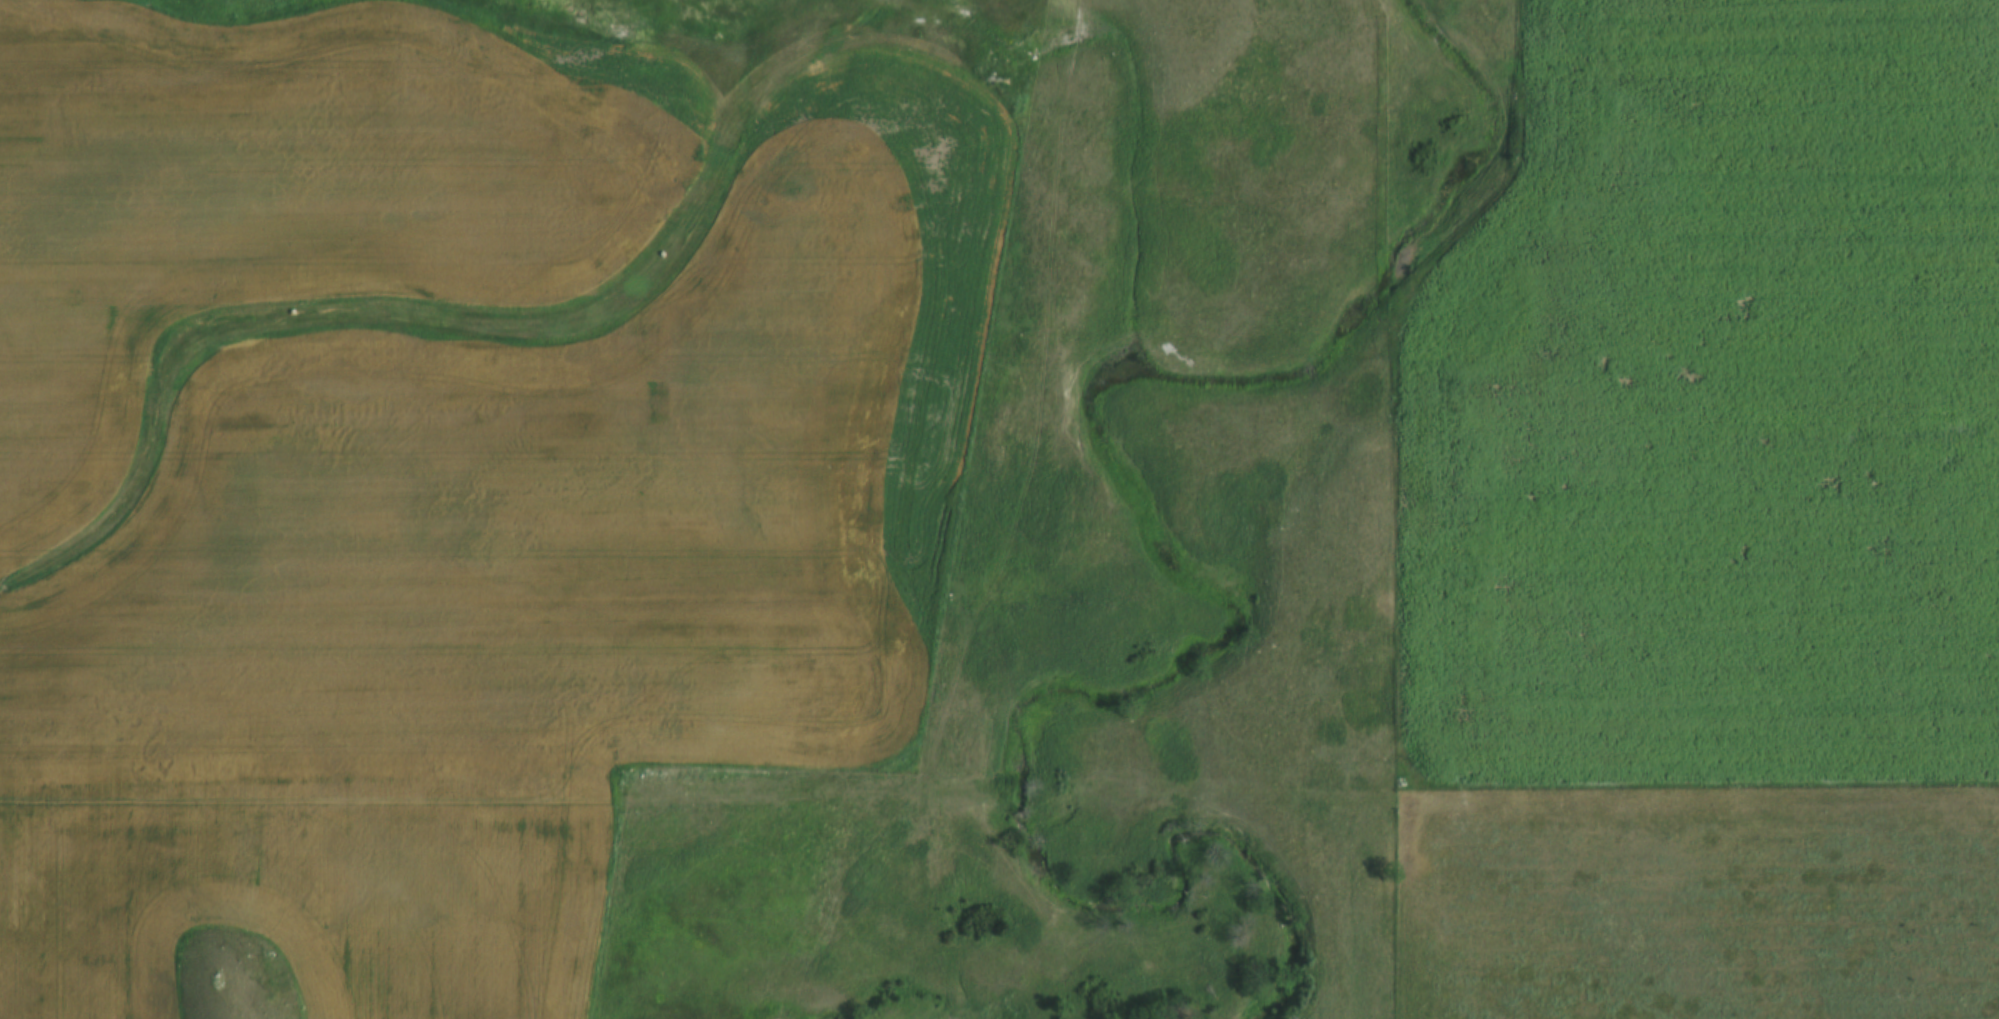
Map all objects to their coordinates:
road: (999, 796)

